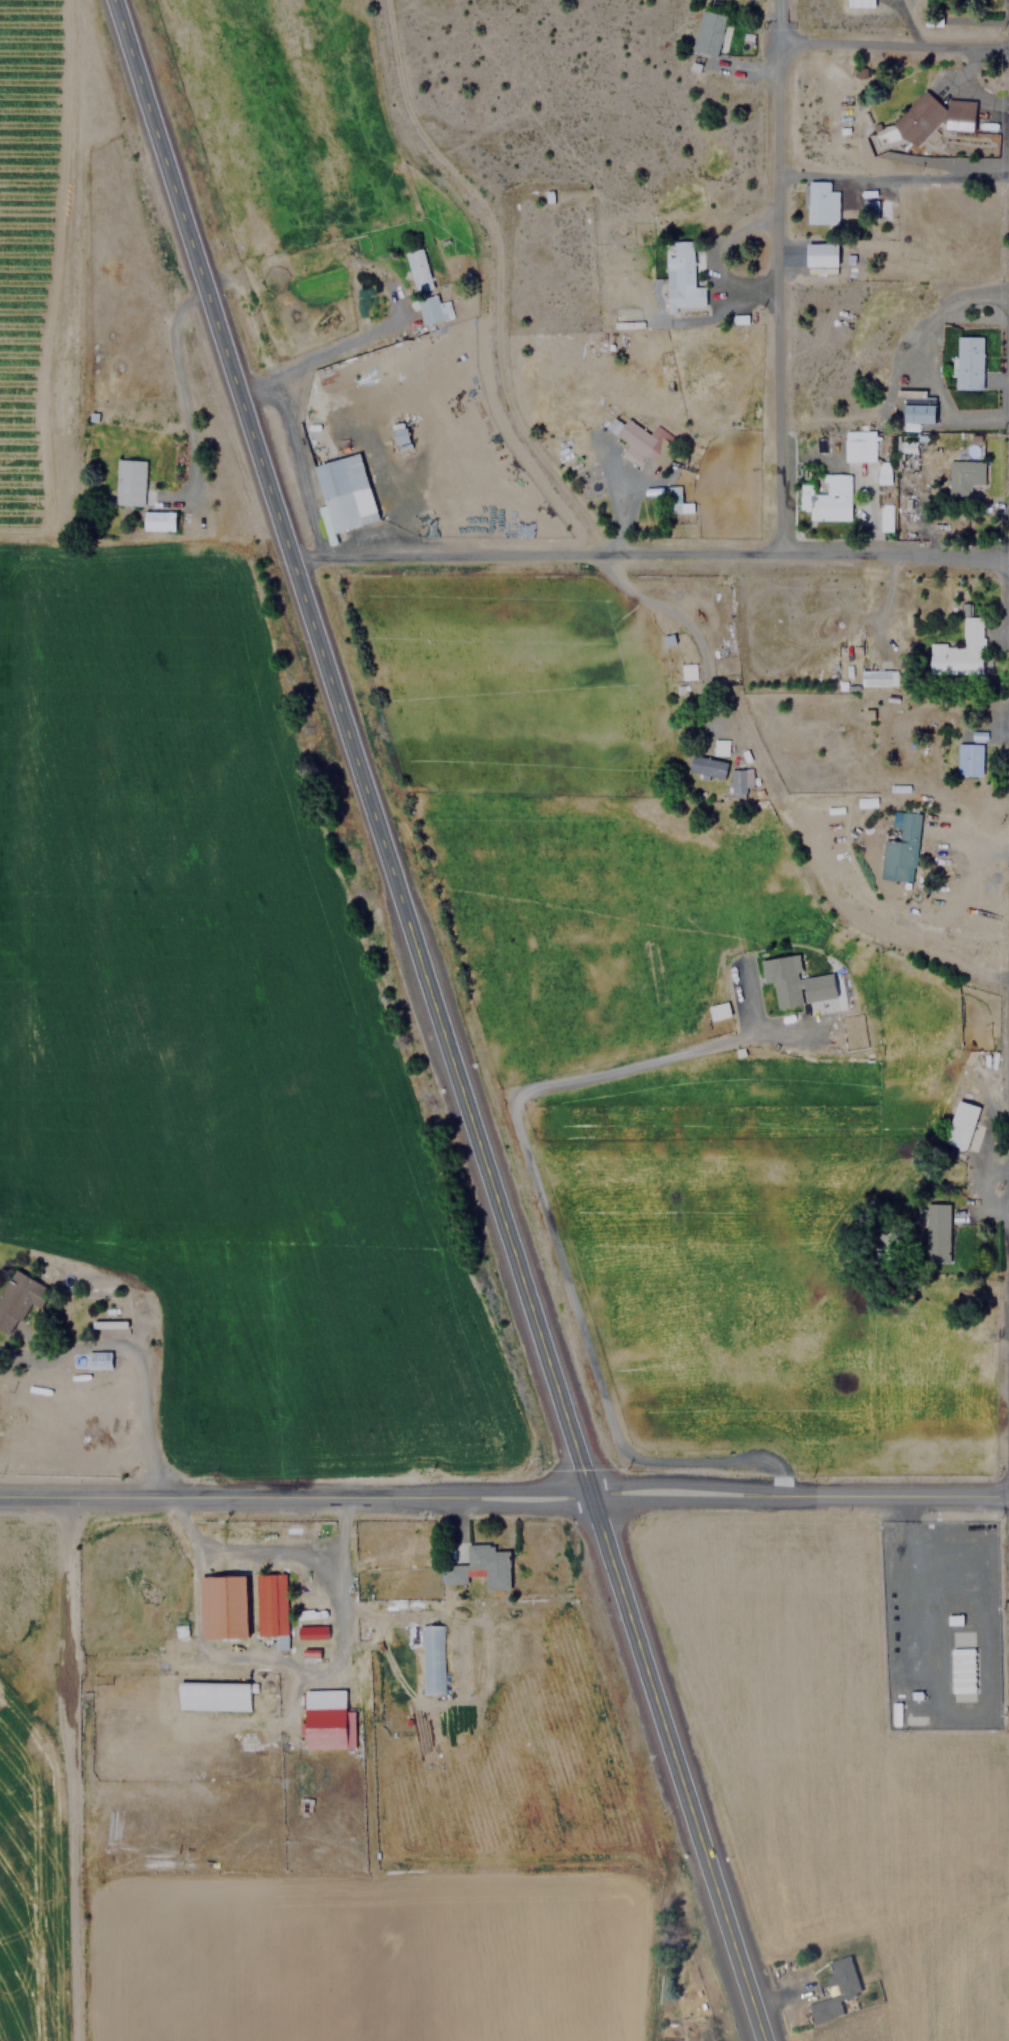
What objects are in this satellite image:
building: (860, 3)
road: (779, 22)
building: (708, 32)
road: (894, 47)
building: (933, 116)
road: (895, 174)
building: (819, 203)
building: (820, 257)
building: (417, 269)
building: (681, 276)
road: (781, 296)
building: (431, 309)
road: (339, 344)
building: (968, 362)
building: (918, 410)
building: (641, 442)
building: (858, 446)
building: (882, 472)
building: (965, 473)
building: (128, 482)
building: (885, 493)
building: (343, 495)
building: (825, 496)
building: (671, 499)
building: (884, 519)
building: (158, 521)
road: (648, 550)
building: (959, 650)
building: (877, 677)
building: (720, 746)
building: (968, 759)
building: (707, 766)
building: (740, 779)
building: (900, 848)
building: (794, 981)
road: (434, 1020)
building: (962, 1122)
road: (543, 1211)
building: (936, 1229)
building: (19, 1299)
building: (90, 1359)
road: (137, 1376)
road: (293, 1497)
road: (797, 1499)
building: (489, 1564)
building: (454, 1574)
building: (271, 1604)
building: (222, 1606)
building: (313, 1632)
building: (432, 1641)
building: (312, 1652)
building: (960, 1670)
building: (324, 1719)
crop: (38, 1800)
crop: (509, 1838)
building: (834, 1988)

